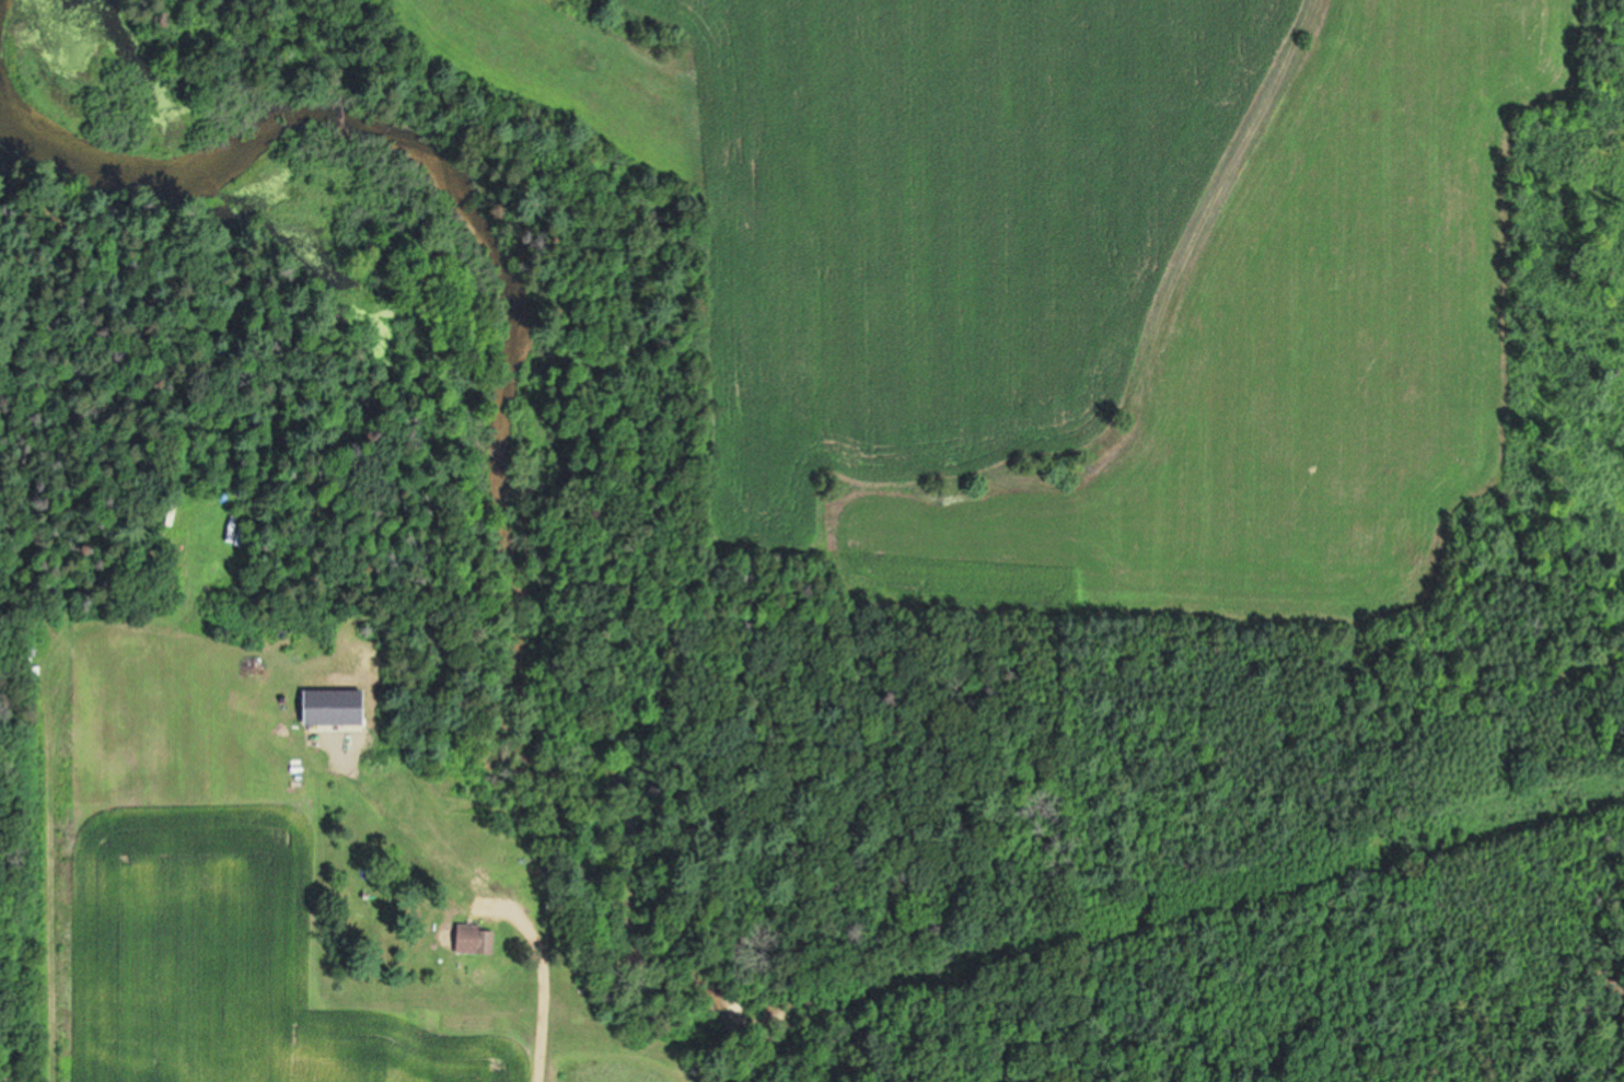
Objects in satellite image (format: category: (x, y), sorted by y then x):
building: (514, 877)
road: (547, 976)

